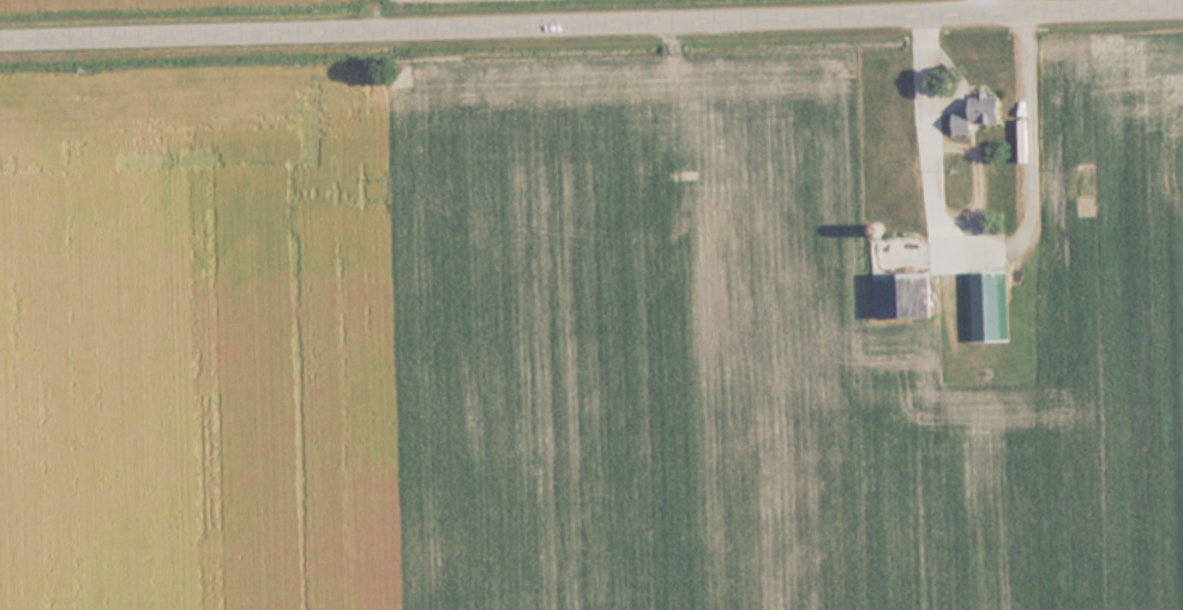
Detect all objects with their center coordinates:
road: (989, 2)
road: (590, 17)
building: (981, 114)
building: (907, 296)

